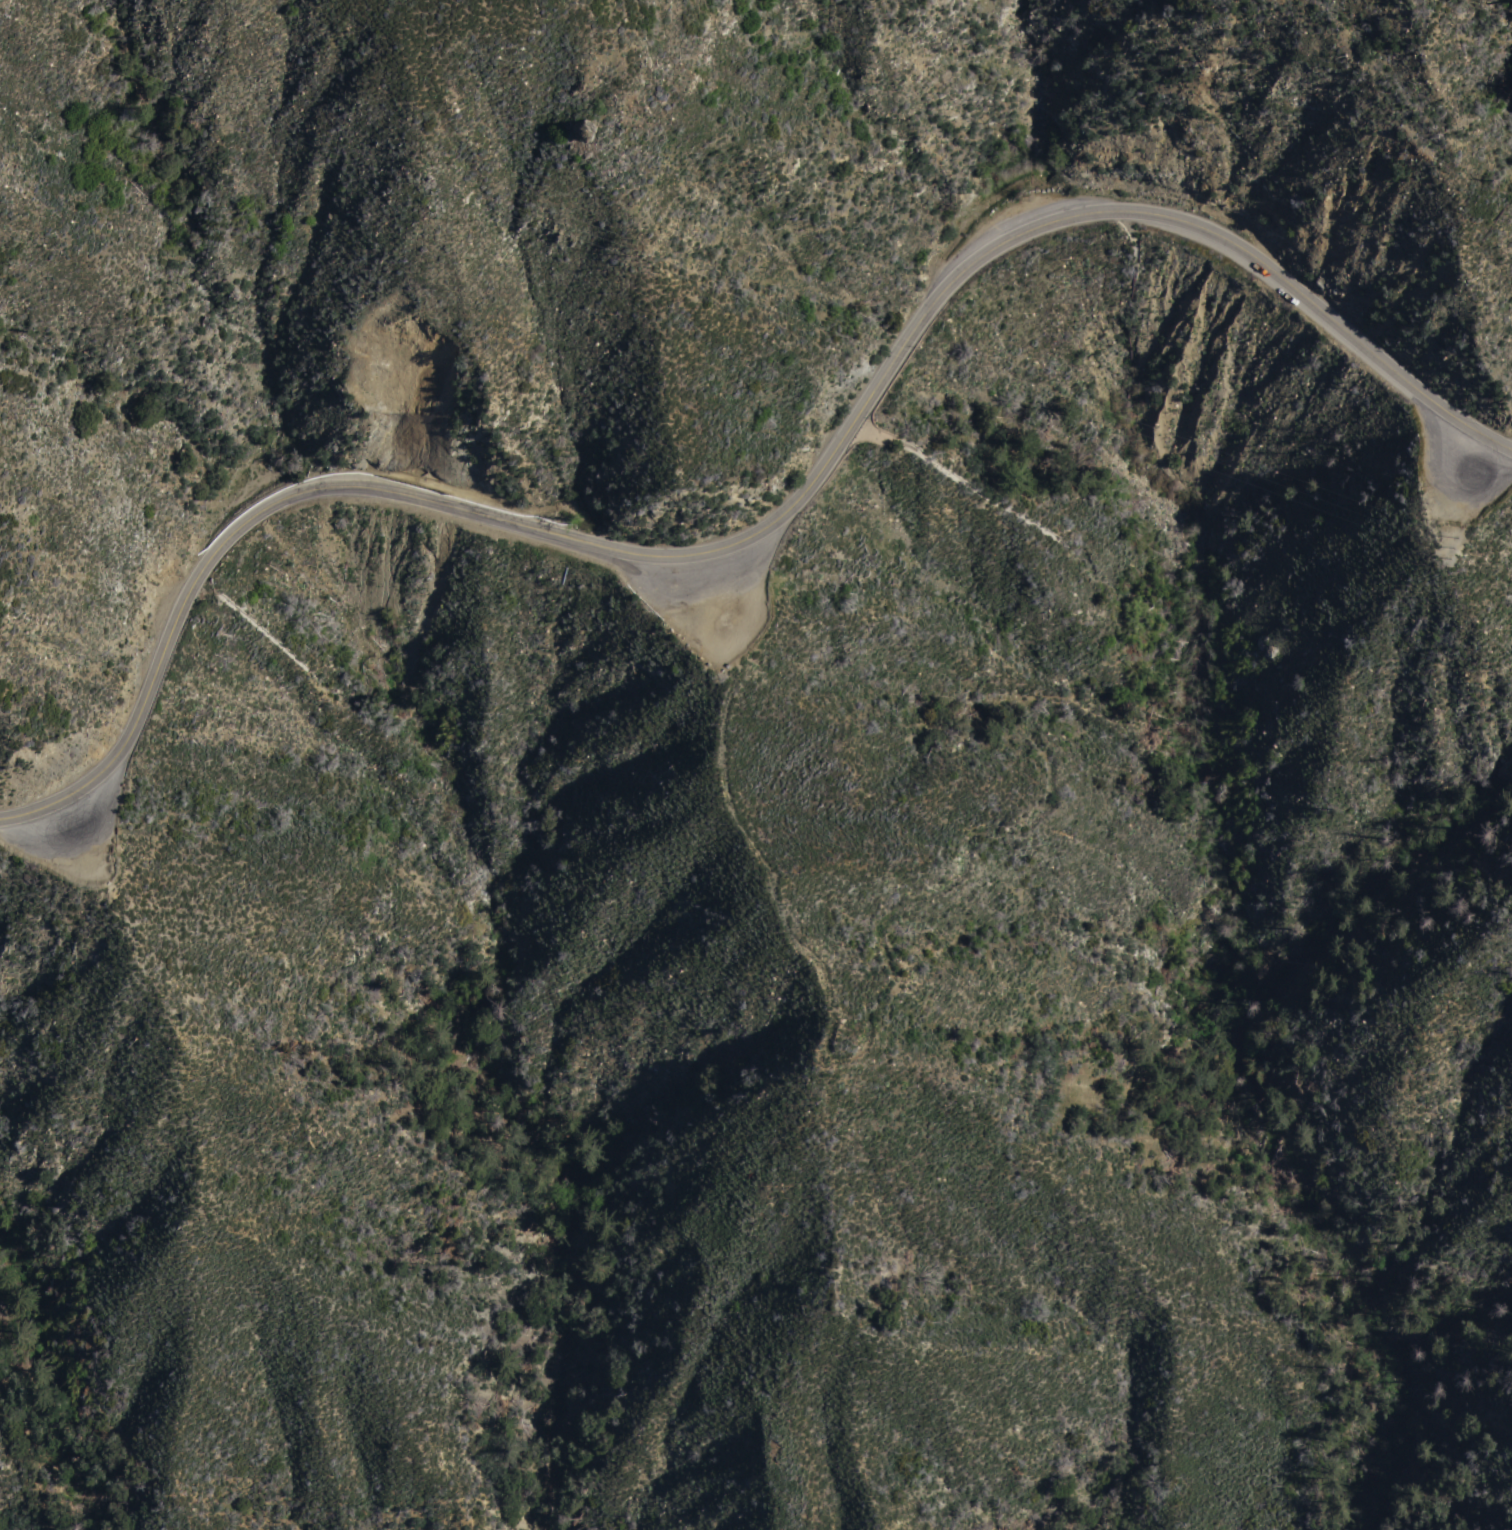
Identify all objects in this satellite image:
parking lot: (1458, 467)
road: (772, 532)
parking lot: (705, 598)
parking lot: (74, 836)

